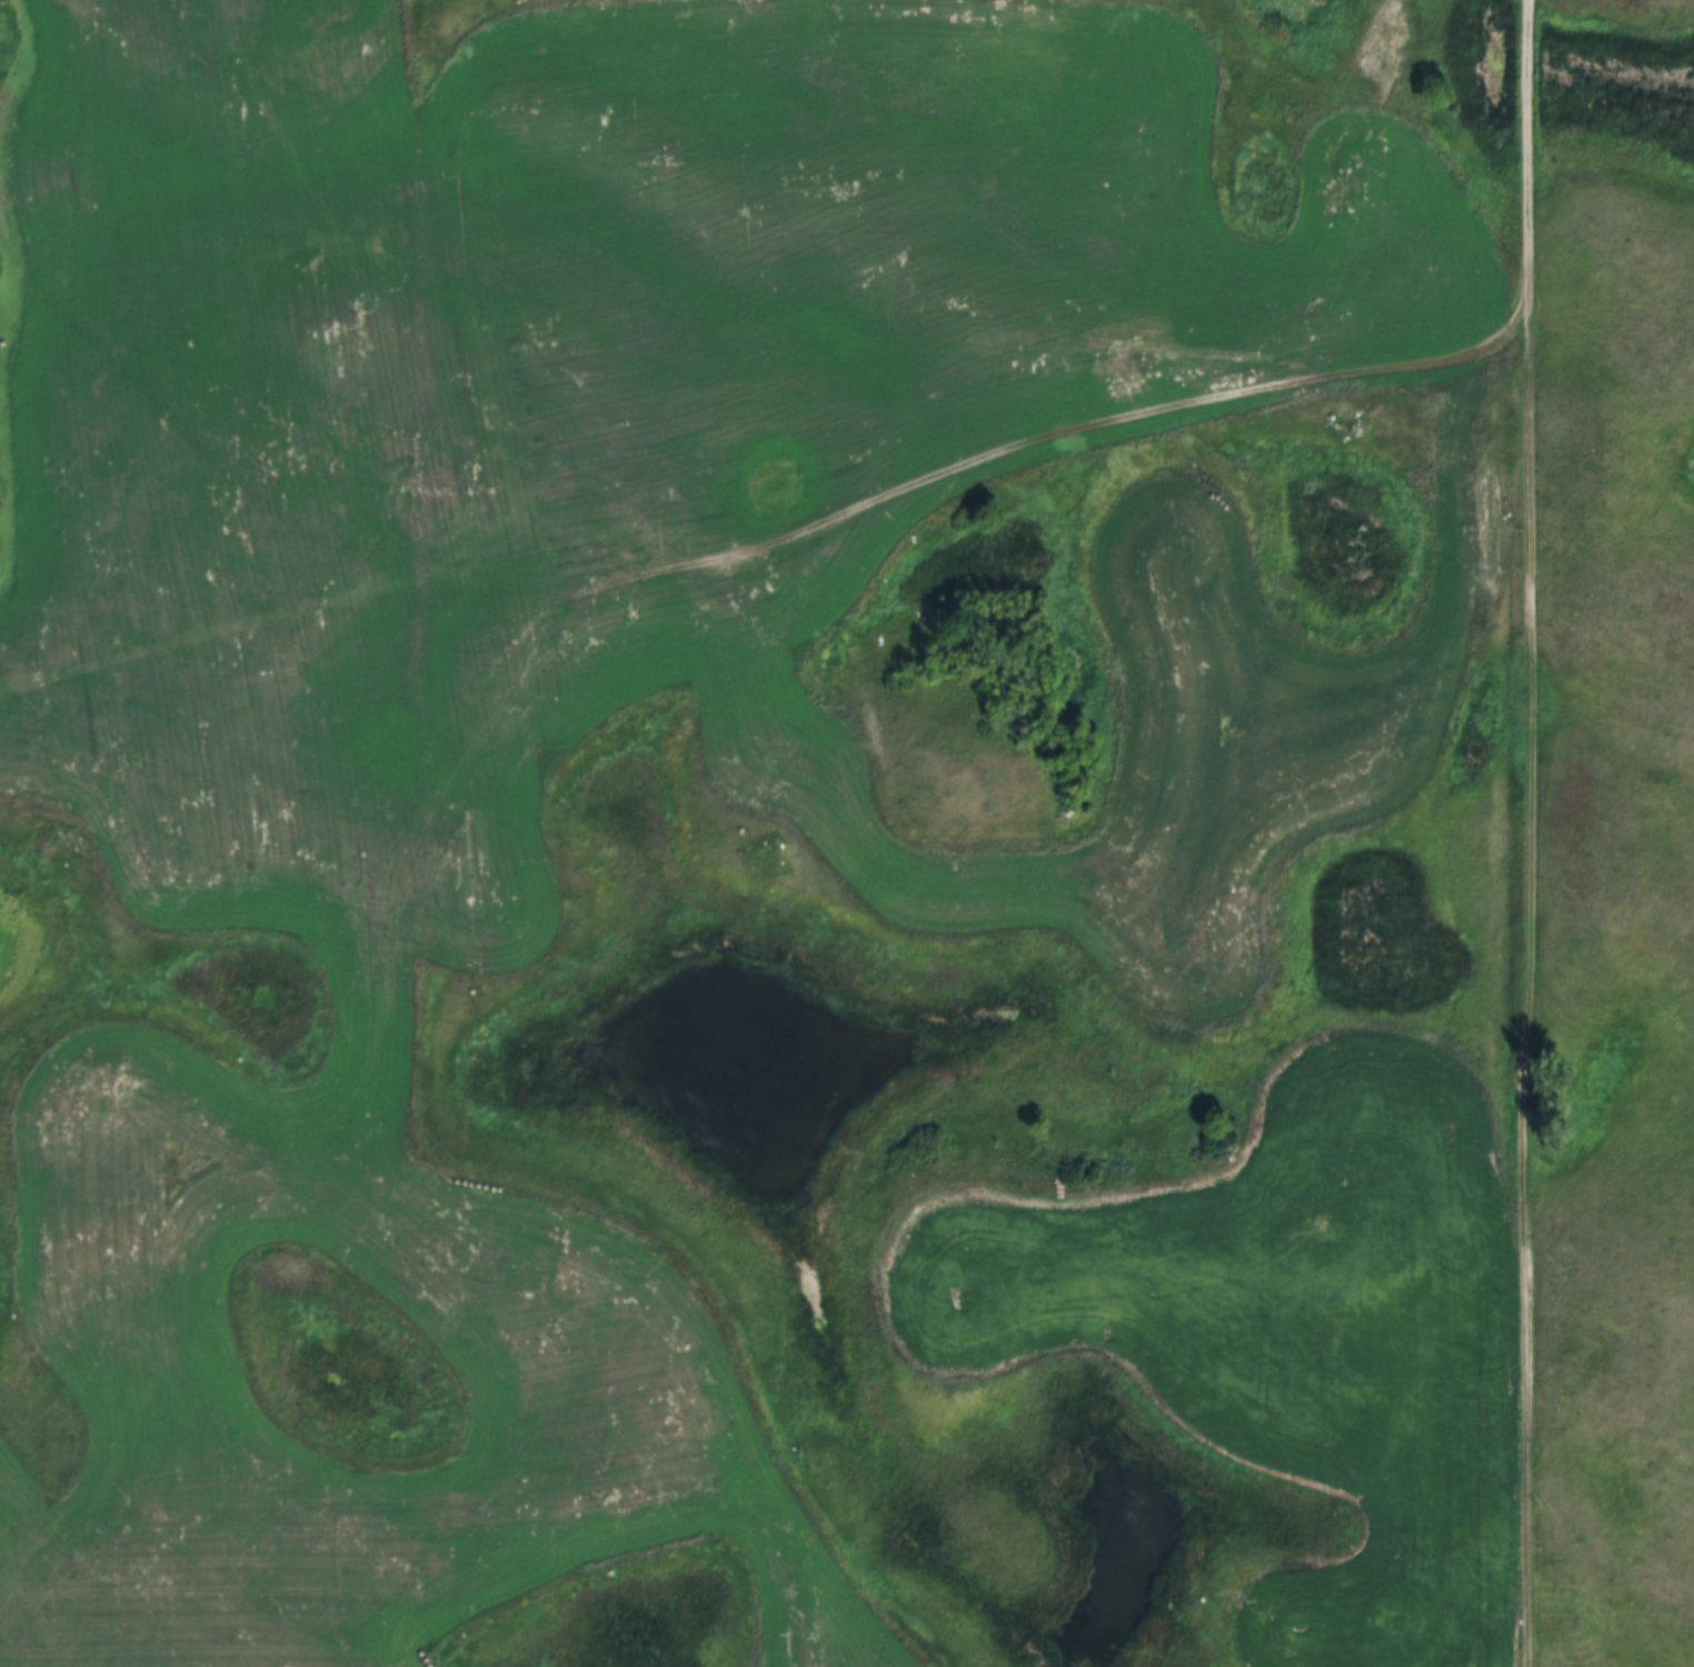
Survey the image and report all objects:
road: (1527, 833)

